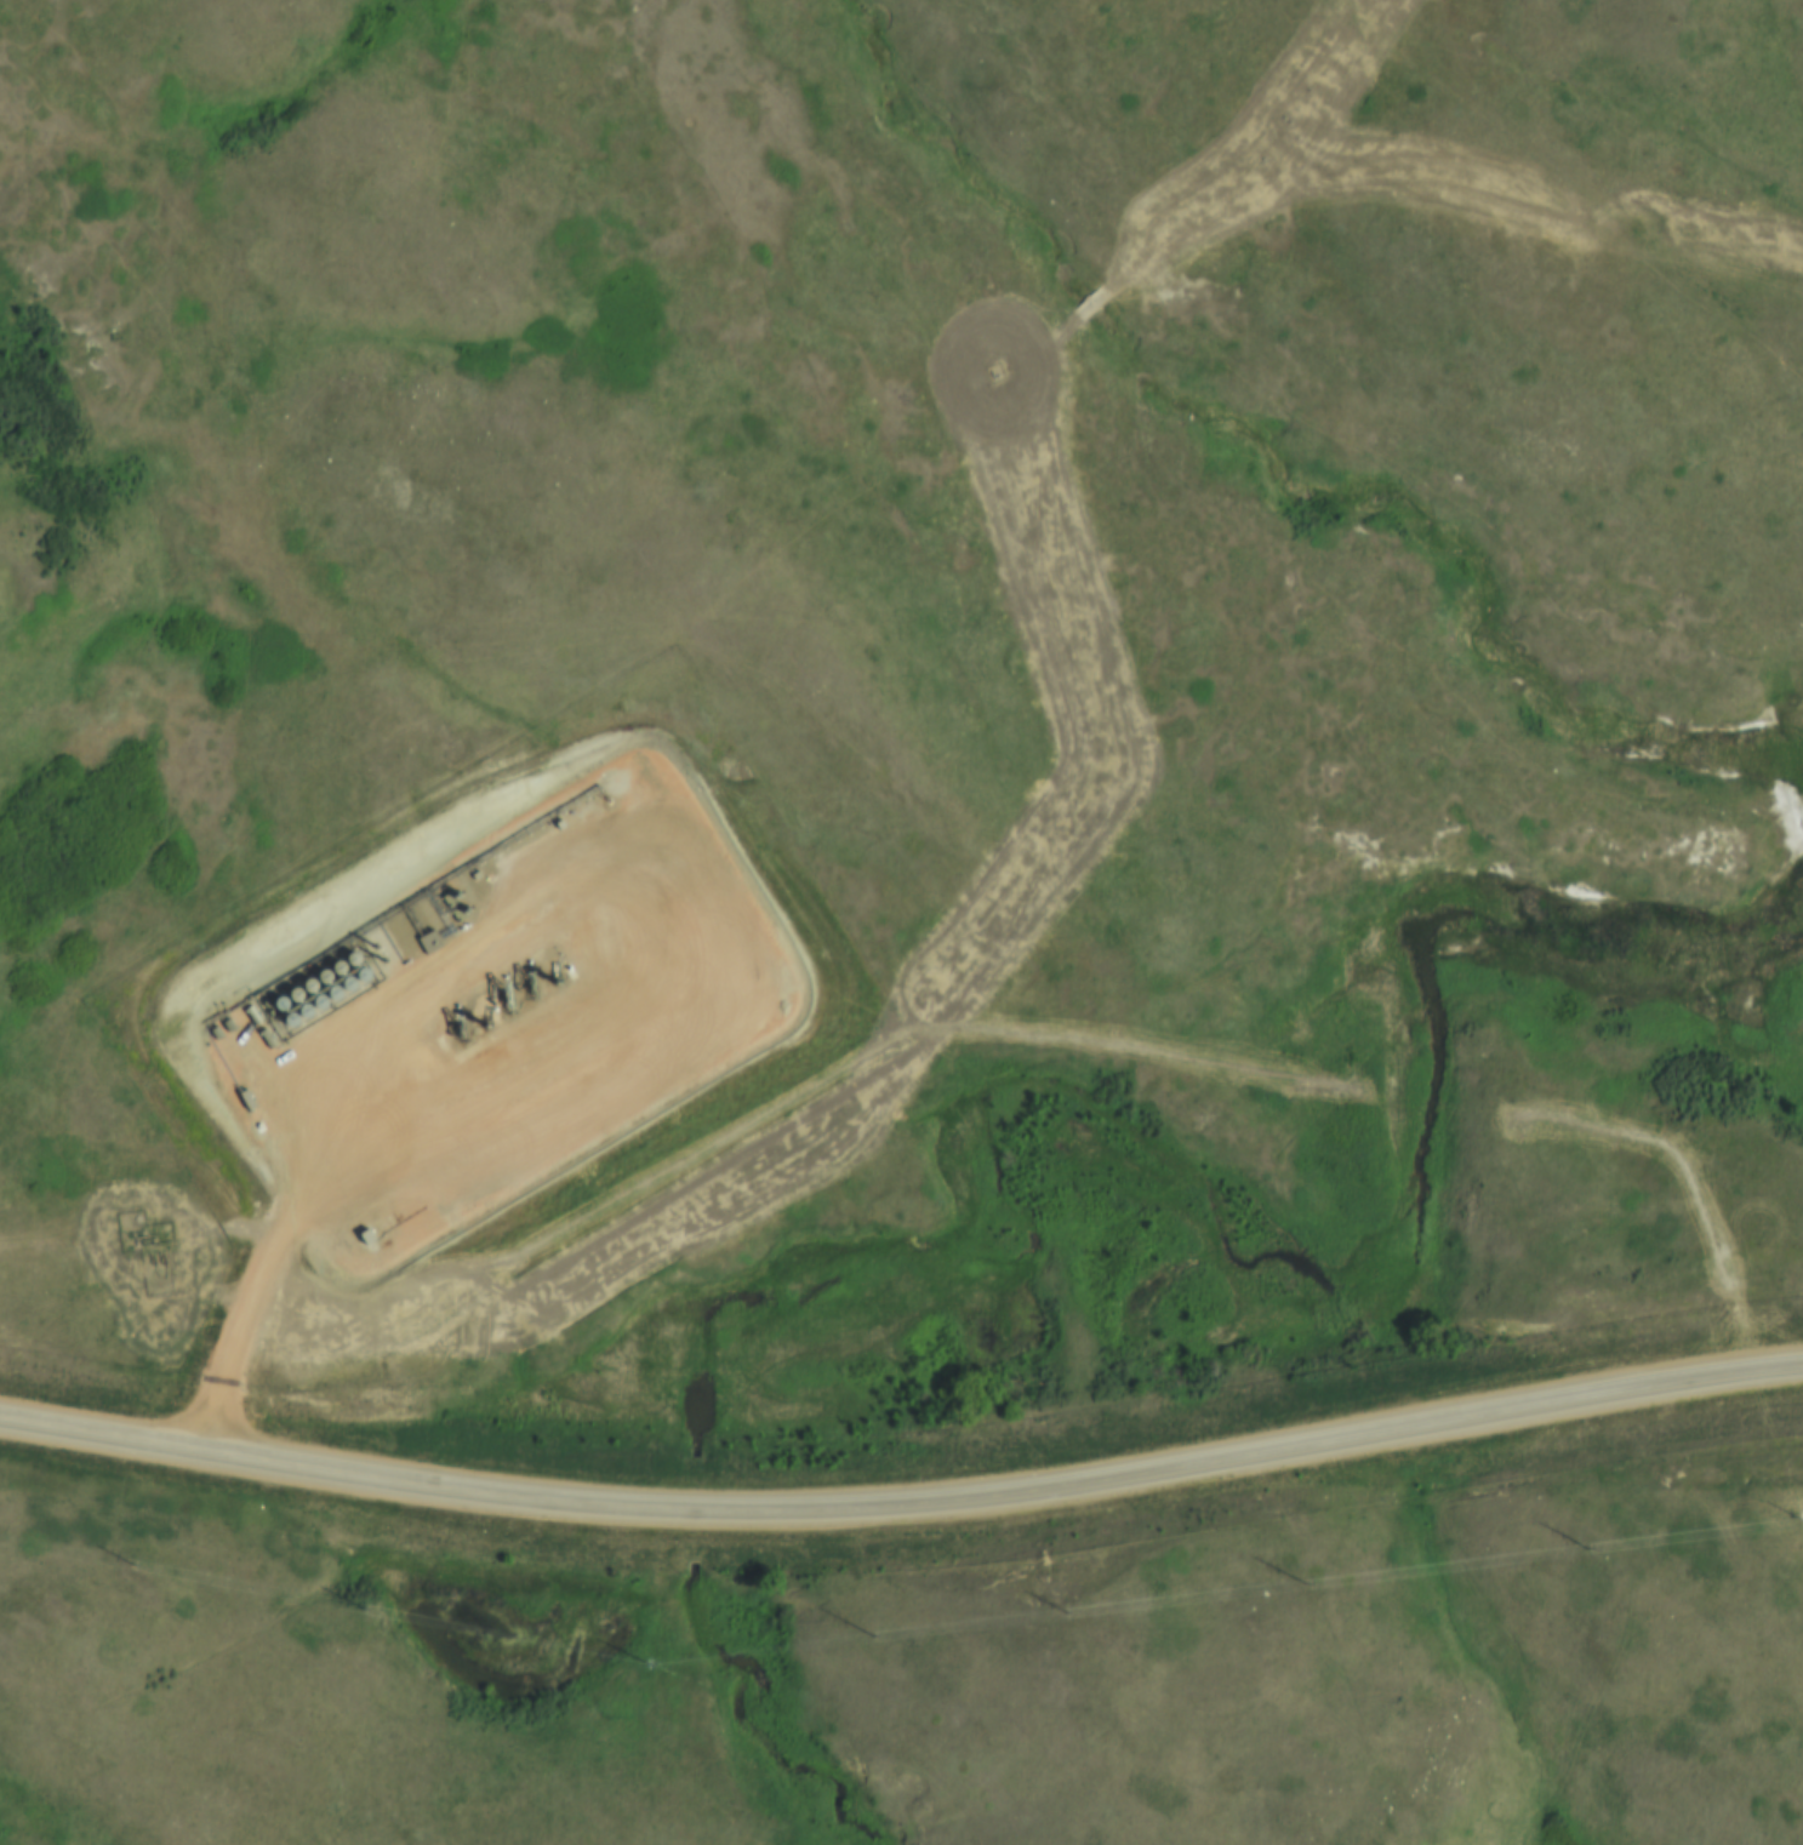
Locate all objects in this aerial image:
road: (543, 899)
building: (348, 964)
storage tank: (348, 964)
building: (333, 975)
storage tank: (333, 975)
building: (356, 982)
storage tank: (356, 982)
petroleum well: (524, 982)
building: (319, 983)
storage tank: (319, 983)
building: (304, 990)
storage tank: (304, 990)
building: (343, 990)
storage tank: (343, 990)
building: (289, 999)
storage tank: (289, 999)
building: (327, 999)
storage tank: (327, 999)
petroleum well: (502, 999)
building: (274, 1007)
storage tank: (274, 1007)
building: (314, 1007)
storage tank: (314, 1007)
petroleum well: (481, 1012)
building: (299, 1016)
storage tank: (299, 1016)
building: (285, 1026)
storage tank: (285, 1026)
petroleum well: (453, 1028)
road: (902, 1509)

